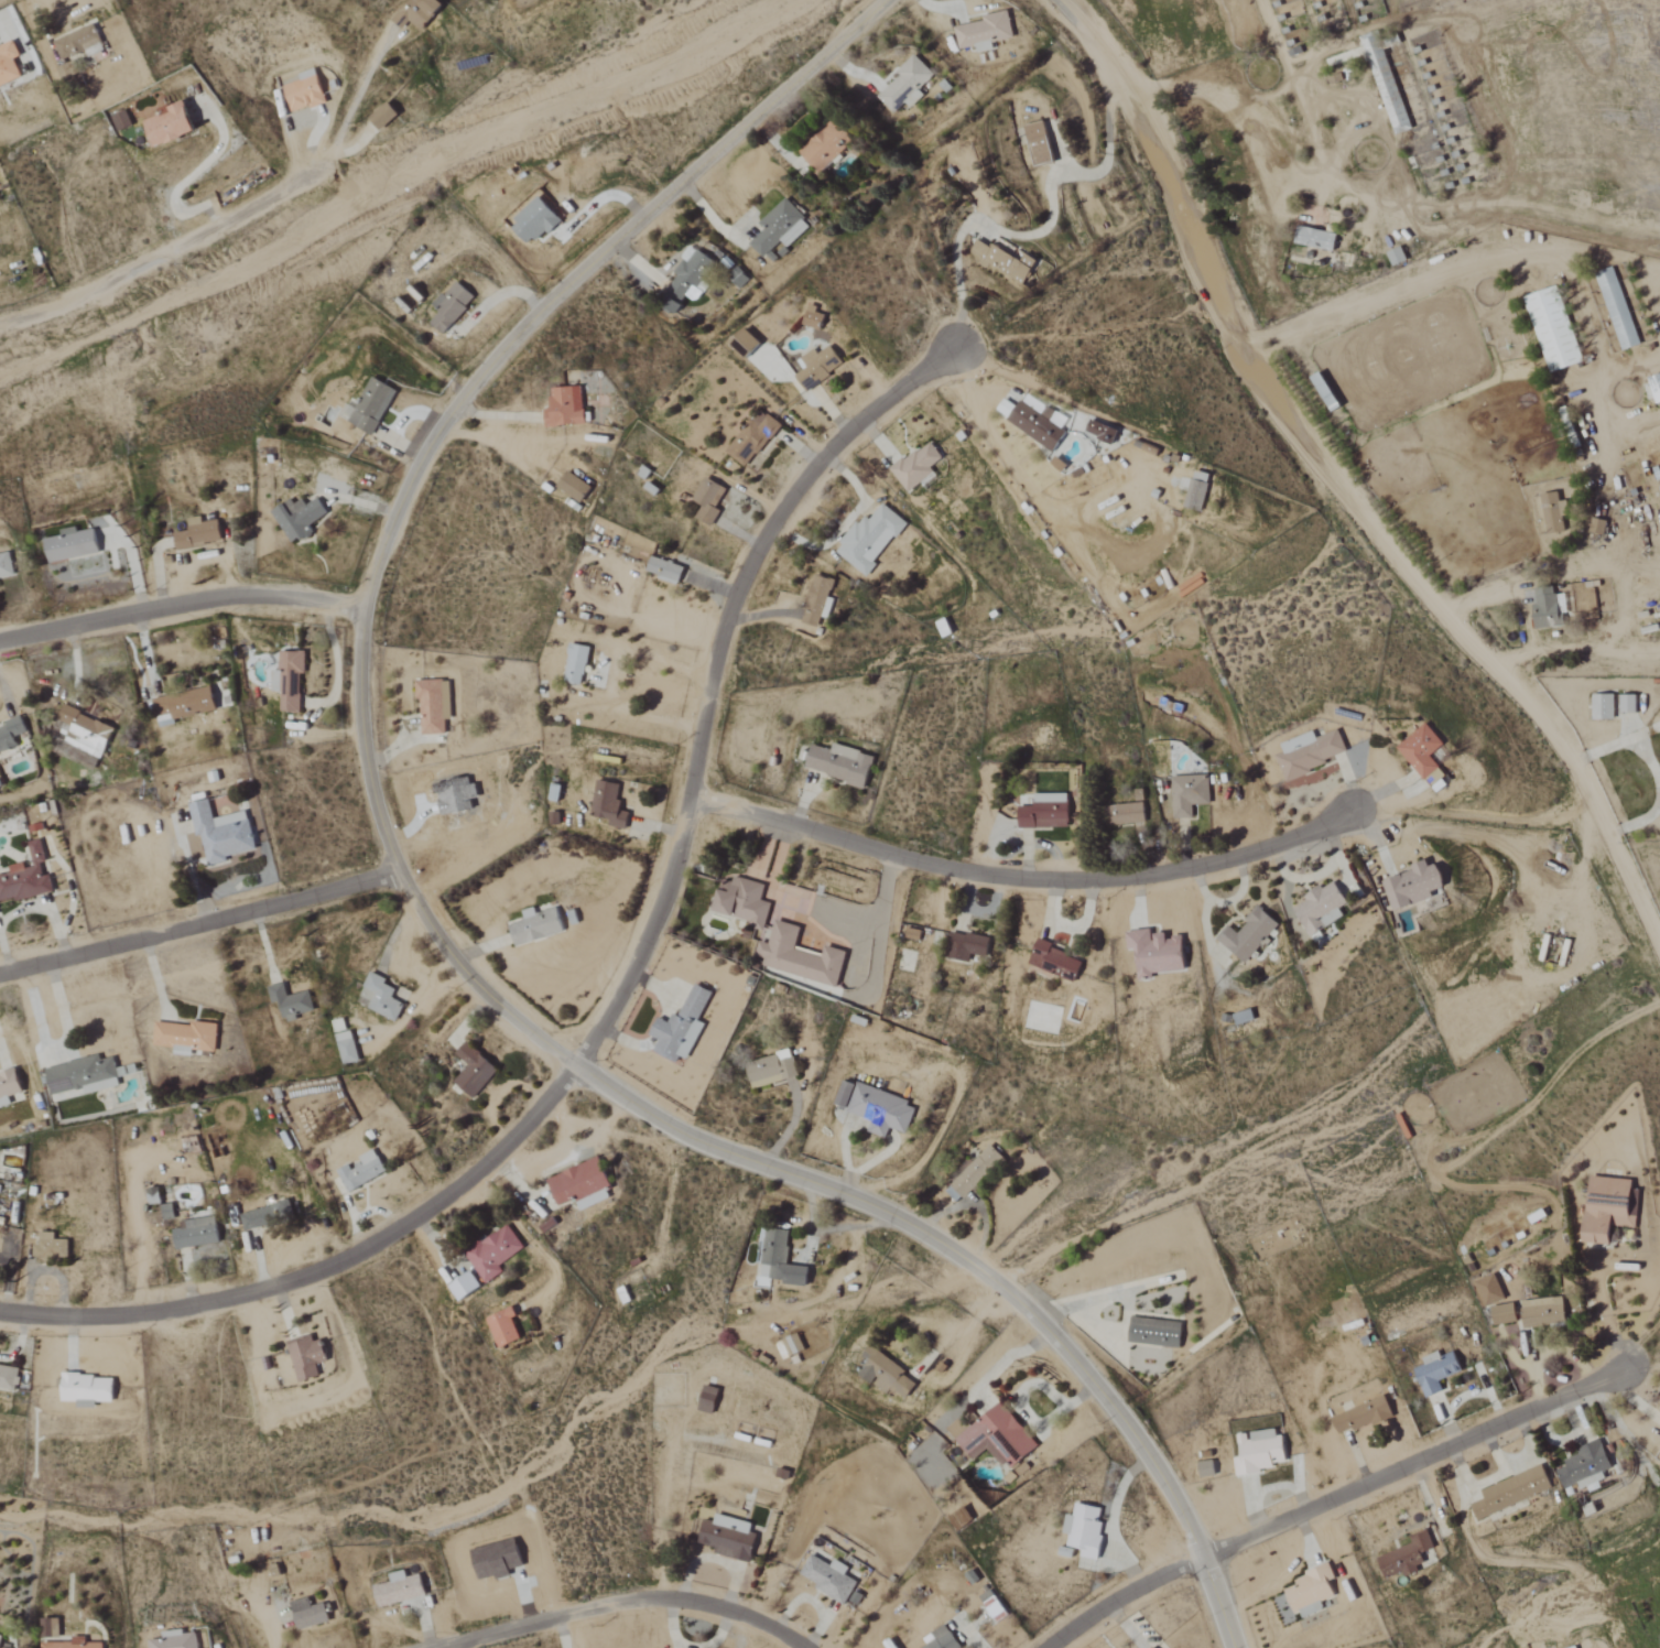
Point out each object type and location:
road: (1068, 9)
building: (417, 13)
building: (985, 32)
building: (79, 44)
building: (9, 65)
building: (907, 85)
building: (1388, 86)
building: (304, 91)
road: (346, 109)
building: (384, 117)
building: (121, 121)
building: (170, 126)
road: (1260, 139)
building: (1040, 144)
building: (826, 145)
road: (183, 177)
building: (535, 221)
building: (779, 229)
building: (1317, 239)
building: (1397, 257)
road: (153, 261)
building: (1002, 261)
road: (1451, 264)
building: (691, 277)
building: (452, 307)
building: (1617, 311)
building: (814, 318)
building: (1553, 330)
building: (747, 345)
road: (1632, 366)
building: (820, 367)
building: (1657, 389)
building: (370, 408)
building: (566, 408)
building: (1039, 423)
road: (1608, 424)
building: (1103, 432)
building: (753, 440)
building: (919, 467)
building: (574, 488)
building: (1198, 491)
road: (1344, 492)
building: (709, 501)
building: (1554, 514)
building: (299, 519)
building: (1598, 527)
building: (199, 534)
building: (870, 540)
building: (72, 545)
building: (6, 566)
building: (665, 571)
road: (1624, 594)
building: (820, 601)
road: (182, 604)
road: (1517, 607)
building: (1548, 608)
building: (576, 663)
road: (609, 679)
building: (290, 680)
building: (1628, 703)
building: (186, 705)
building: (434, 705)
building: (1603, 706)
building: (85, 731)
building: (11, 735)
road: (1612, 747)
building: (1311, 752)
building: (1424, 755)
building: (840, 763)
building: (555, 792)
building: (1190, 794)
road: (1658, 799)
building: (609, 804)
building: (1046, 812)
building: (1129, 813)
building: (223, 833)
building: (26, 877)
road: (1020, 878)
building: (1415, 886)
building: (745, 901)
building: (1322, 908)
road: (876, 910)
road: (424, 915)
road: (199, 924)
building: (538, 925)
building: (1250, 934)
building: (968, 946)
building: (1157, 953)
building: (799, 956)
building: (1055, 961)
road: (625, 988)
building: (382, 997)
building: (291, 1002)
building: (682, 1027)
building: (187, 1037)
building: (347, 1048)
building: (473, 1070)
building: (772, 1070)
building: (85, 1075)
building: (9, 1087)
building: (844, 1094)
building: (882, 1110)
building: (360, 1169)
building: (973, 1174)
building: (583, 1184)
building: (1610, 1208)
building: (167, 1212)
building: (260, 1216)
building: (1539, 1217)
building: (195, 1232)
building: (48, 1246)
building: (496, 1256)
building: (781, 1260)
building: (466, 1287)
building: (1490, 1290)
building: (1542, 1311)
road: (1607, 1311)
building: (1505, 1314)
building: (504, 1329)
building: (1156, 1333)
building: (793, 1345)
building: (307, 1356)
building: (1435, 1370)
building: (8, 1375)
building: (886, 1375)
building: (87, 1387)
building: (708, 1400)
building: (1361, 1414)
building: (995, 1436)
building: (1261, 1451)
building: (1584, 1464)
building: (1207, 1470)
building: (1511, 1490)
road: (1335, 1503)
building: (961, 1519)
building: (1085, 1531)
building: (729, 1538)
building: (1404, 1554)
building: (831, 1579)
building: (1310, 1589)
building: (400, 1590)
road: (625, 1603)
building: (994, 1606)
building: (310, 1614)
building: (53, 1628)
road: (560, 1633)
building: (942, 1639)
building: (1, 1640)
building: (177, 1640)
building: (73, 1644)
building: (1152, 1647)
building: (1576, 1647)

